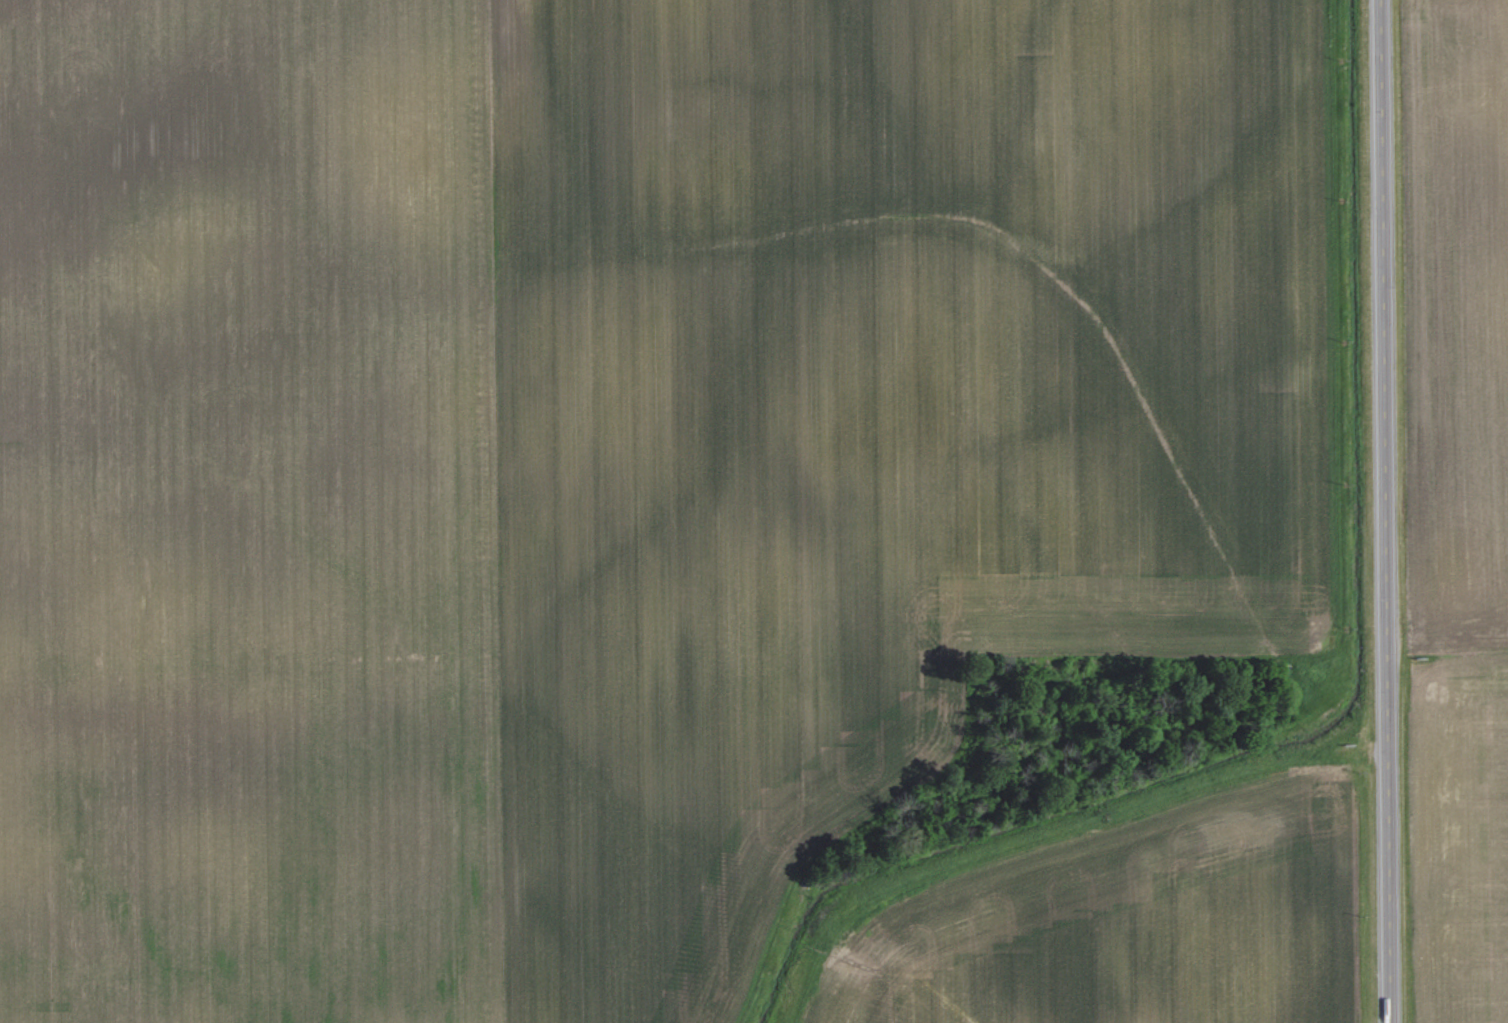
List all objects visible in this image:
road: (1386, 511)

